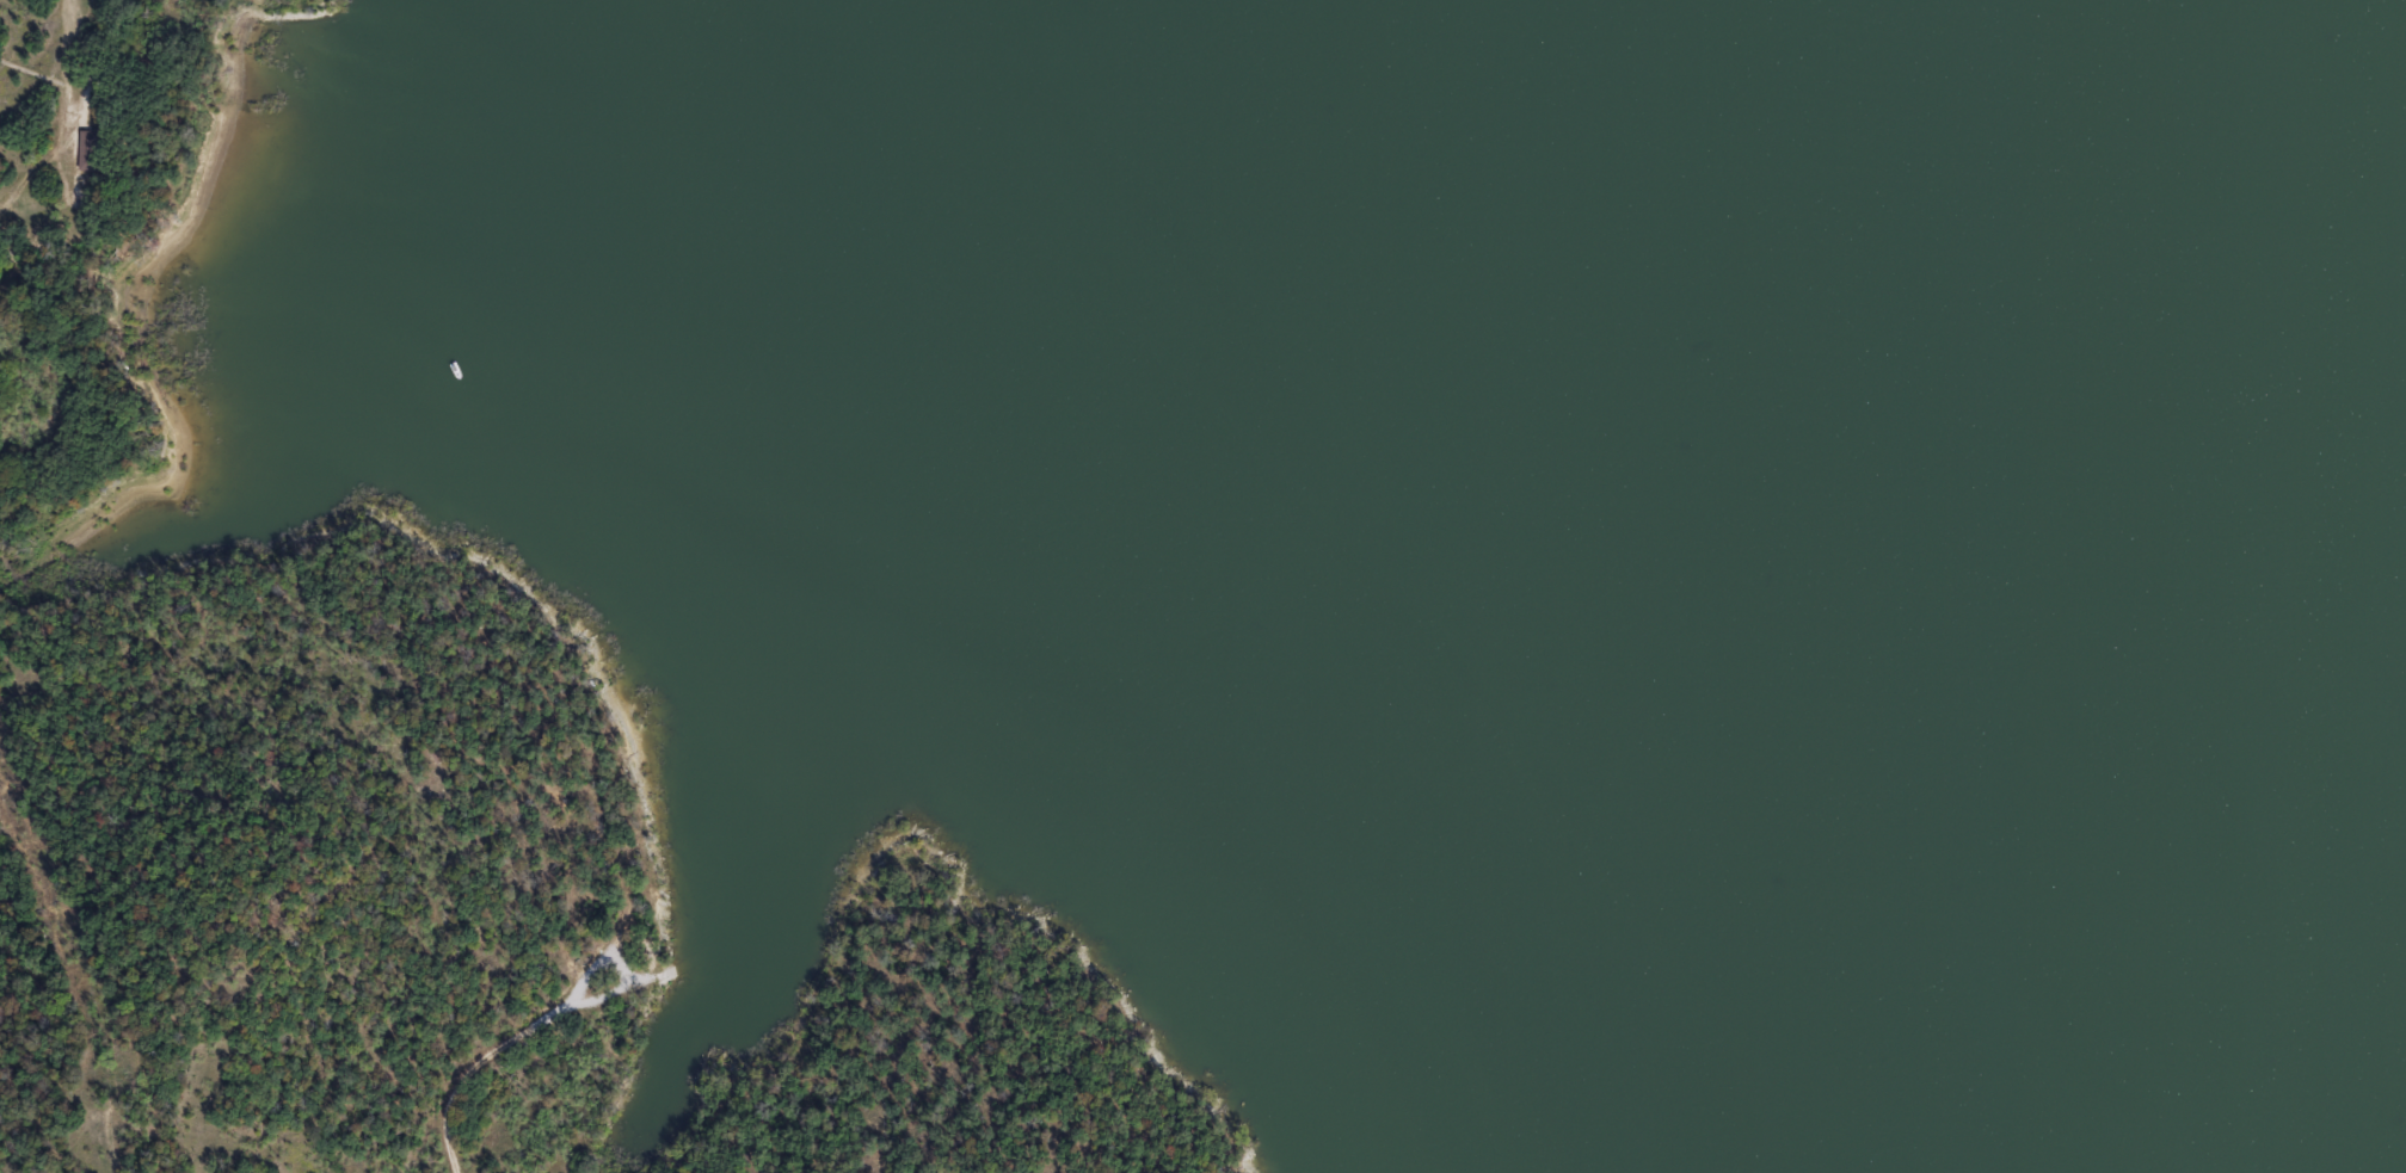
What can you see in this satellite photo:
building: (87, 149)
park: (540, 708)
road: (620, 958)
road: (474, 1068)
road: (109, 1144)

